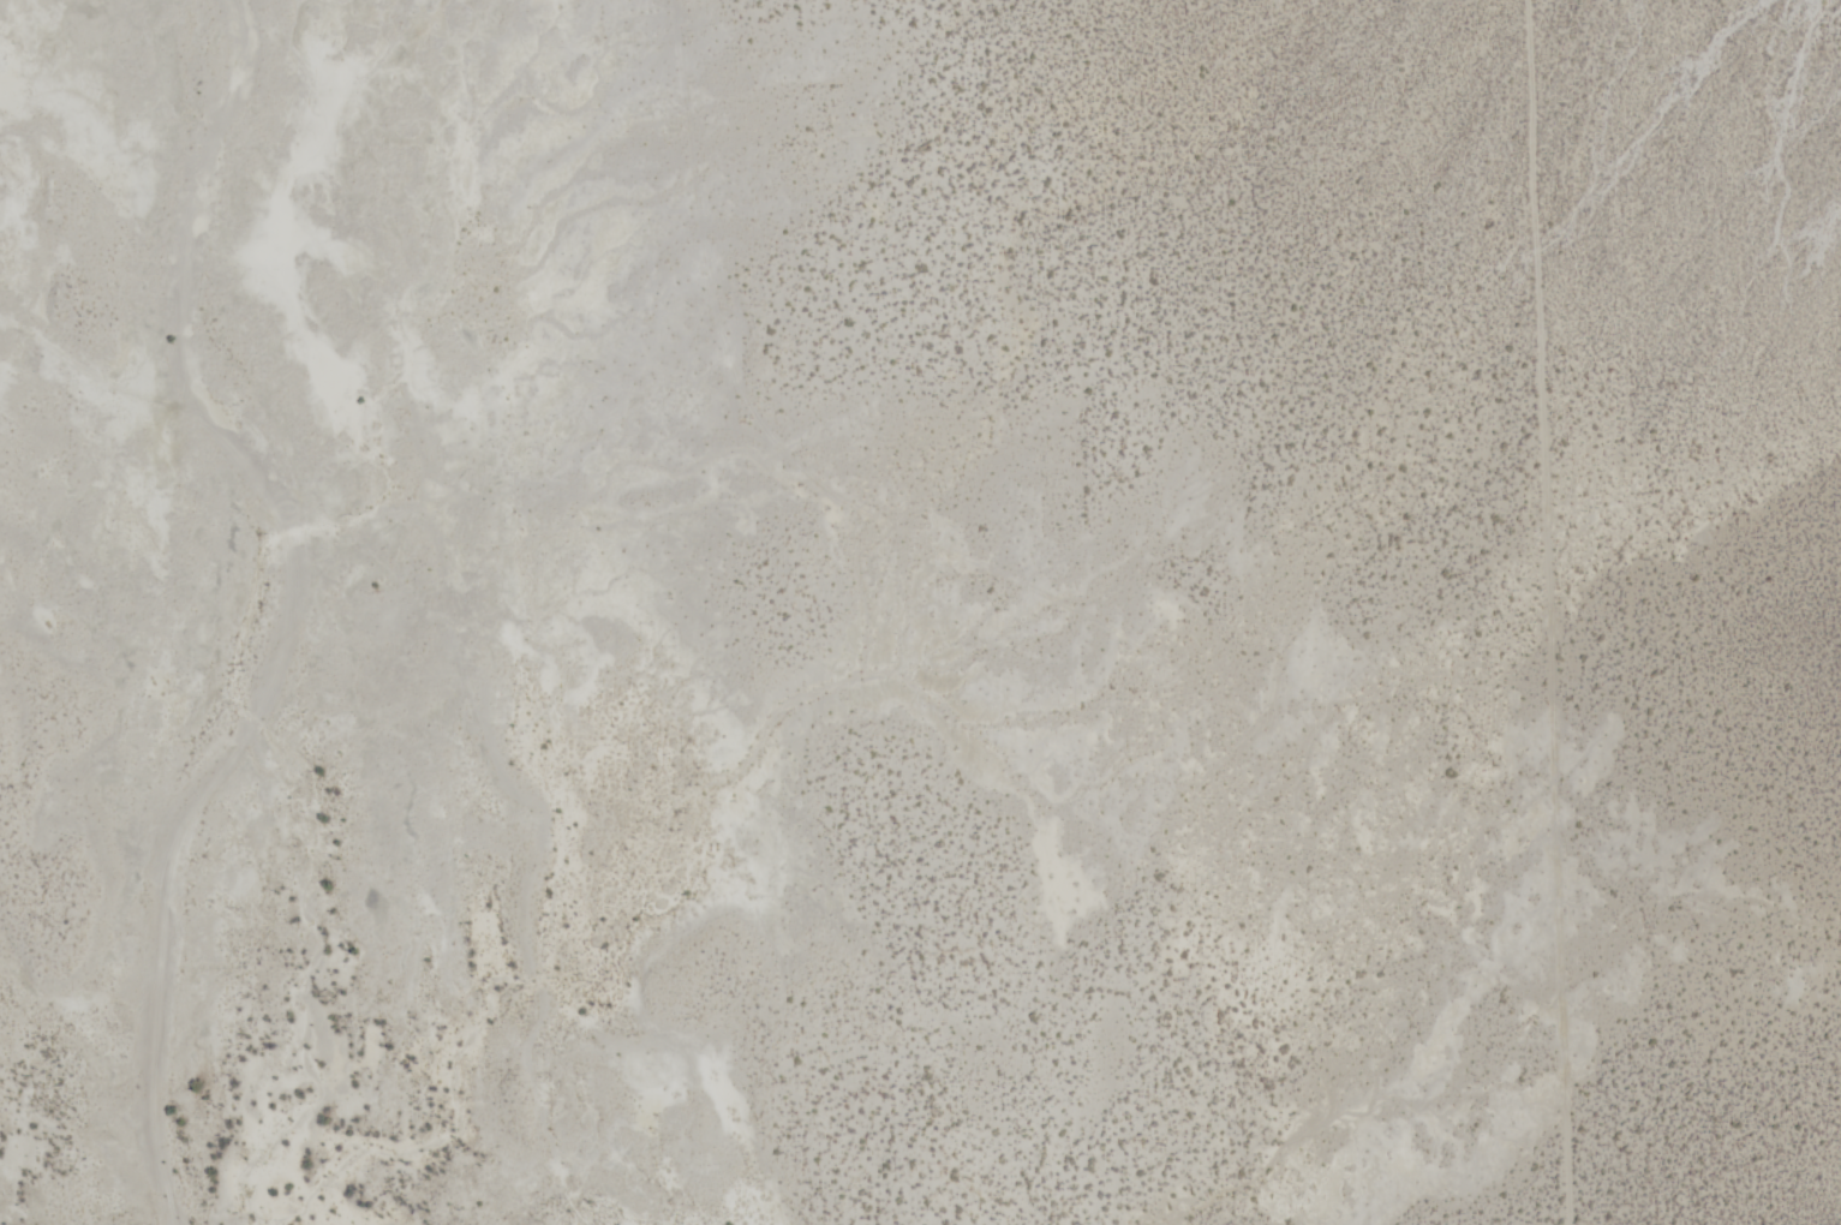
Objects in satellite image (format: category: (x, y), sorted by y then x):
road: (1526, 539)
road: (1556, 612)

